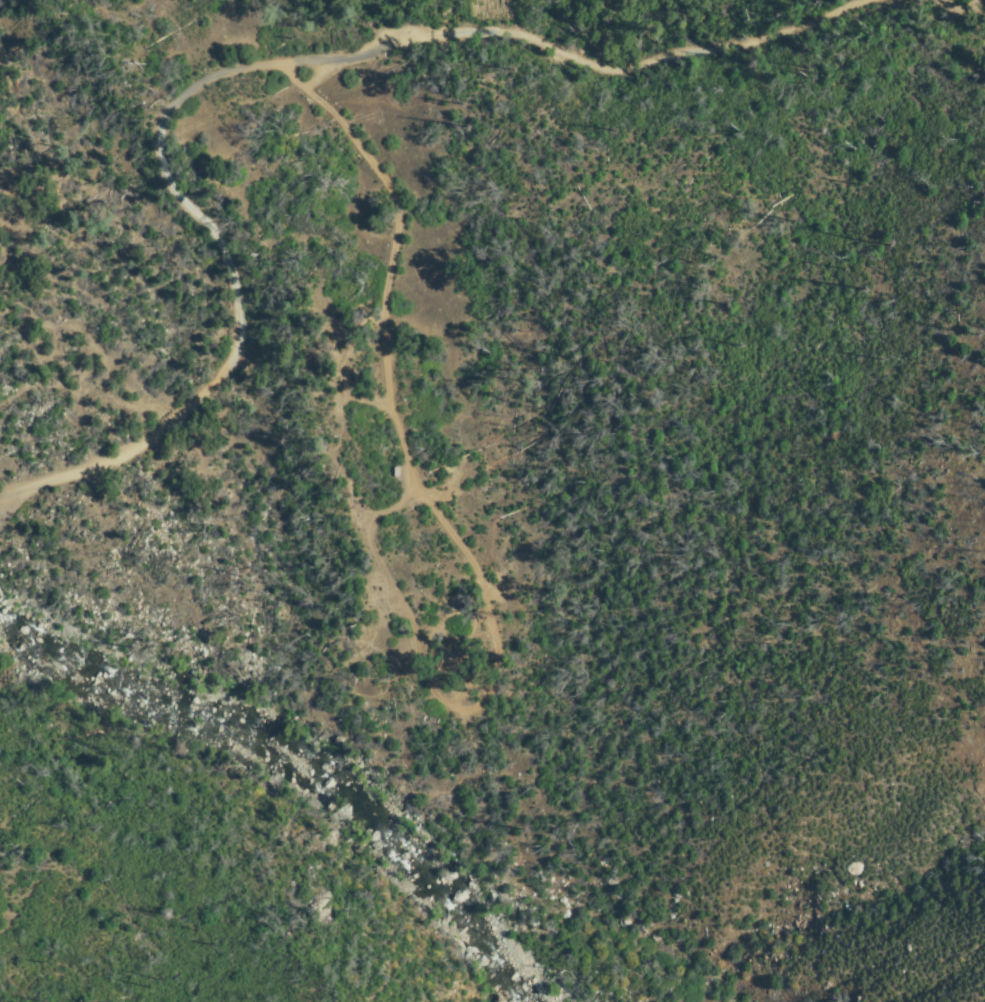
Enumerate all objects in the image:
road: (956, 5)
road: (244, 66)
road: (399, 256)
building: (394, 473)
road: (443, 693)
river: (294, 762)

